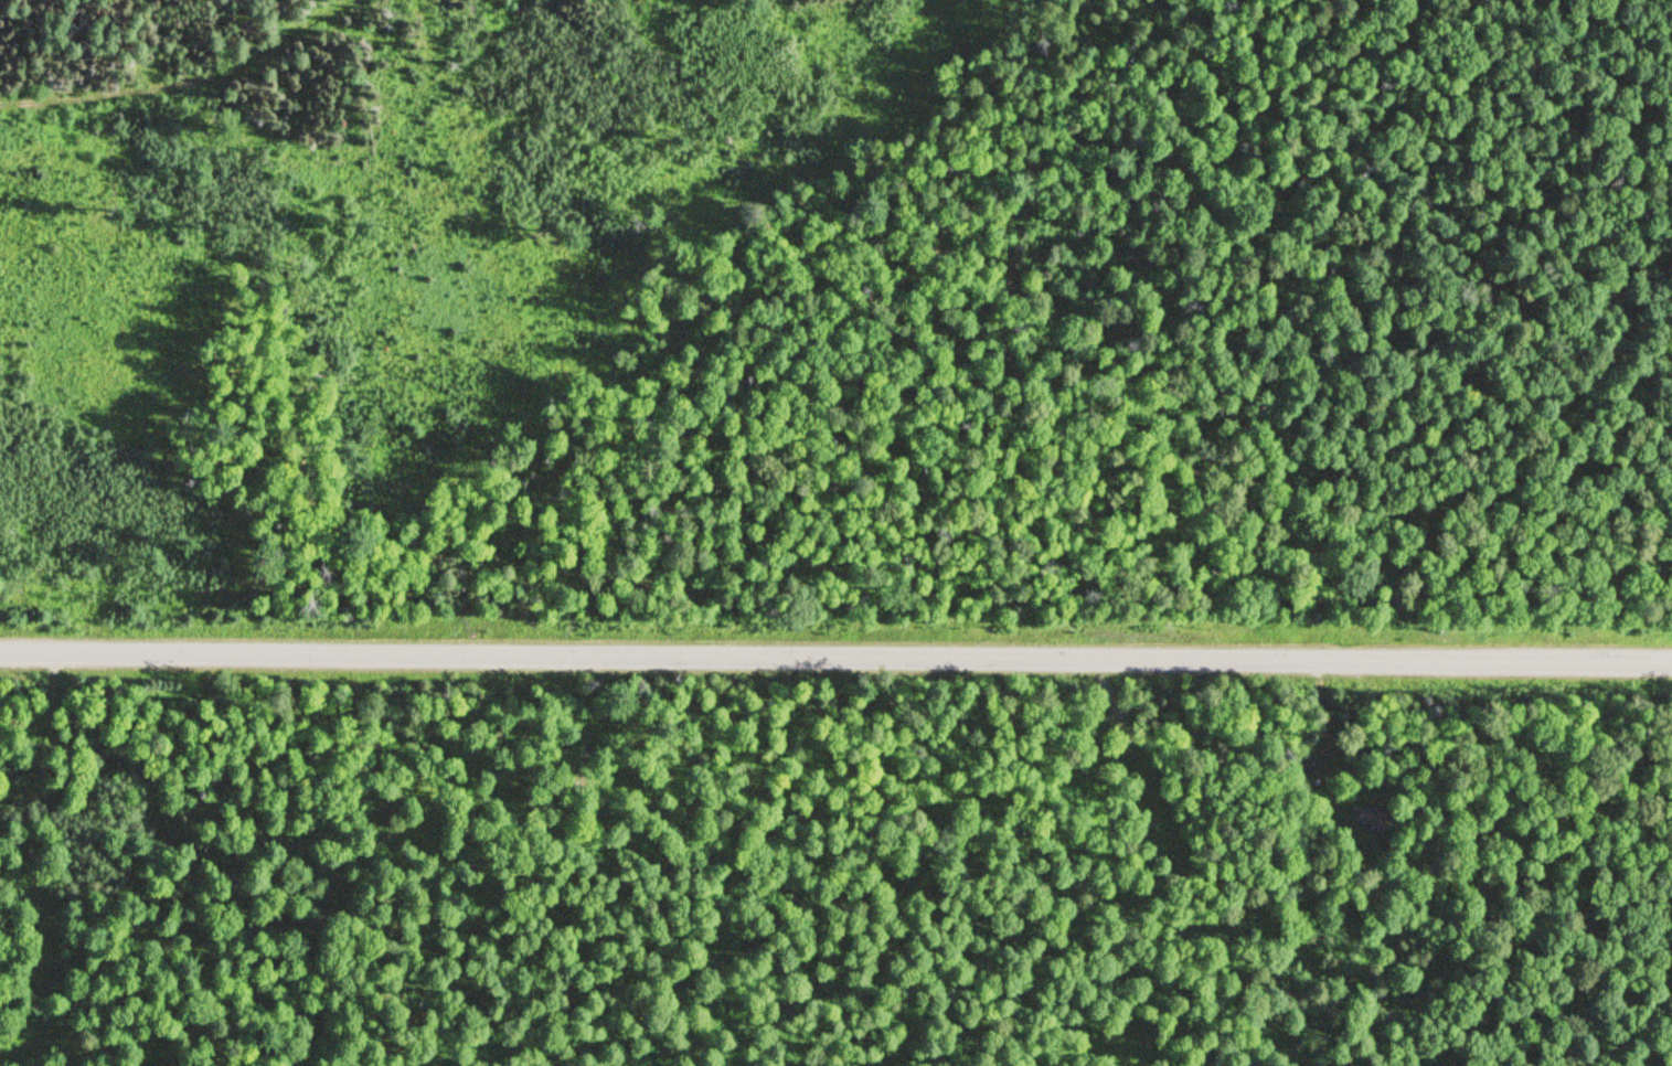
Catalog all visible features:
road: (191, 86)
road: (835, 659)
road: (1329, 728)

